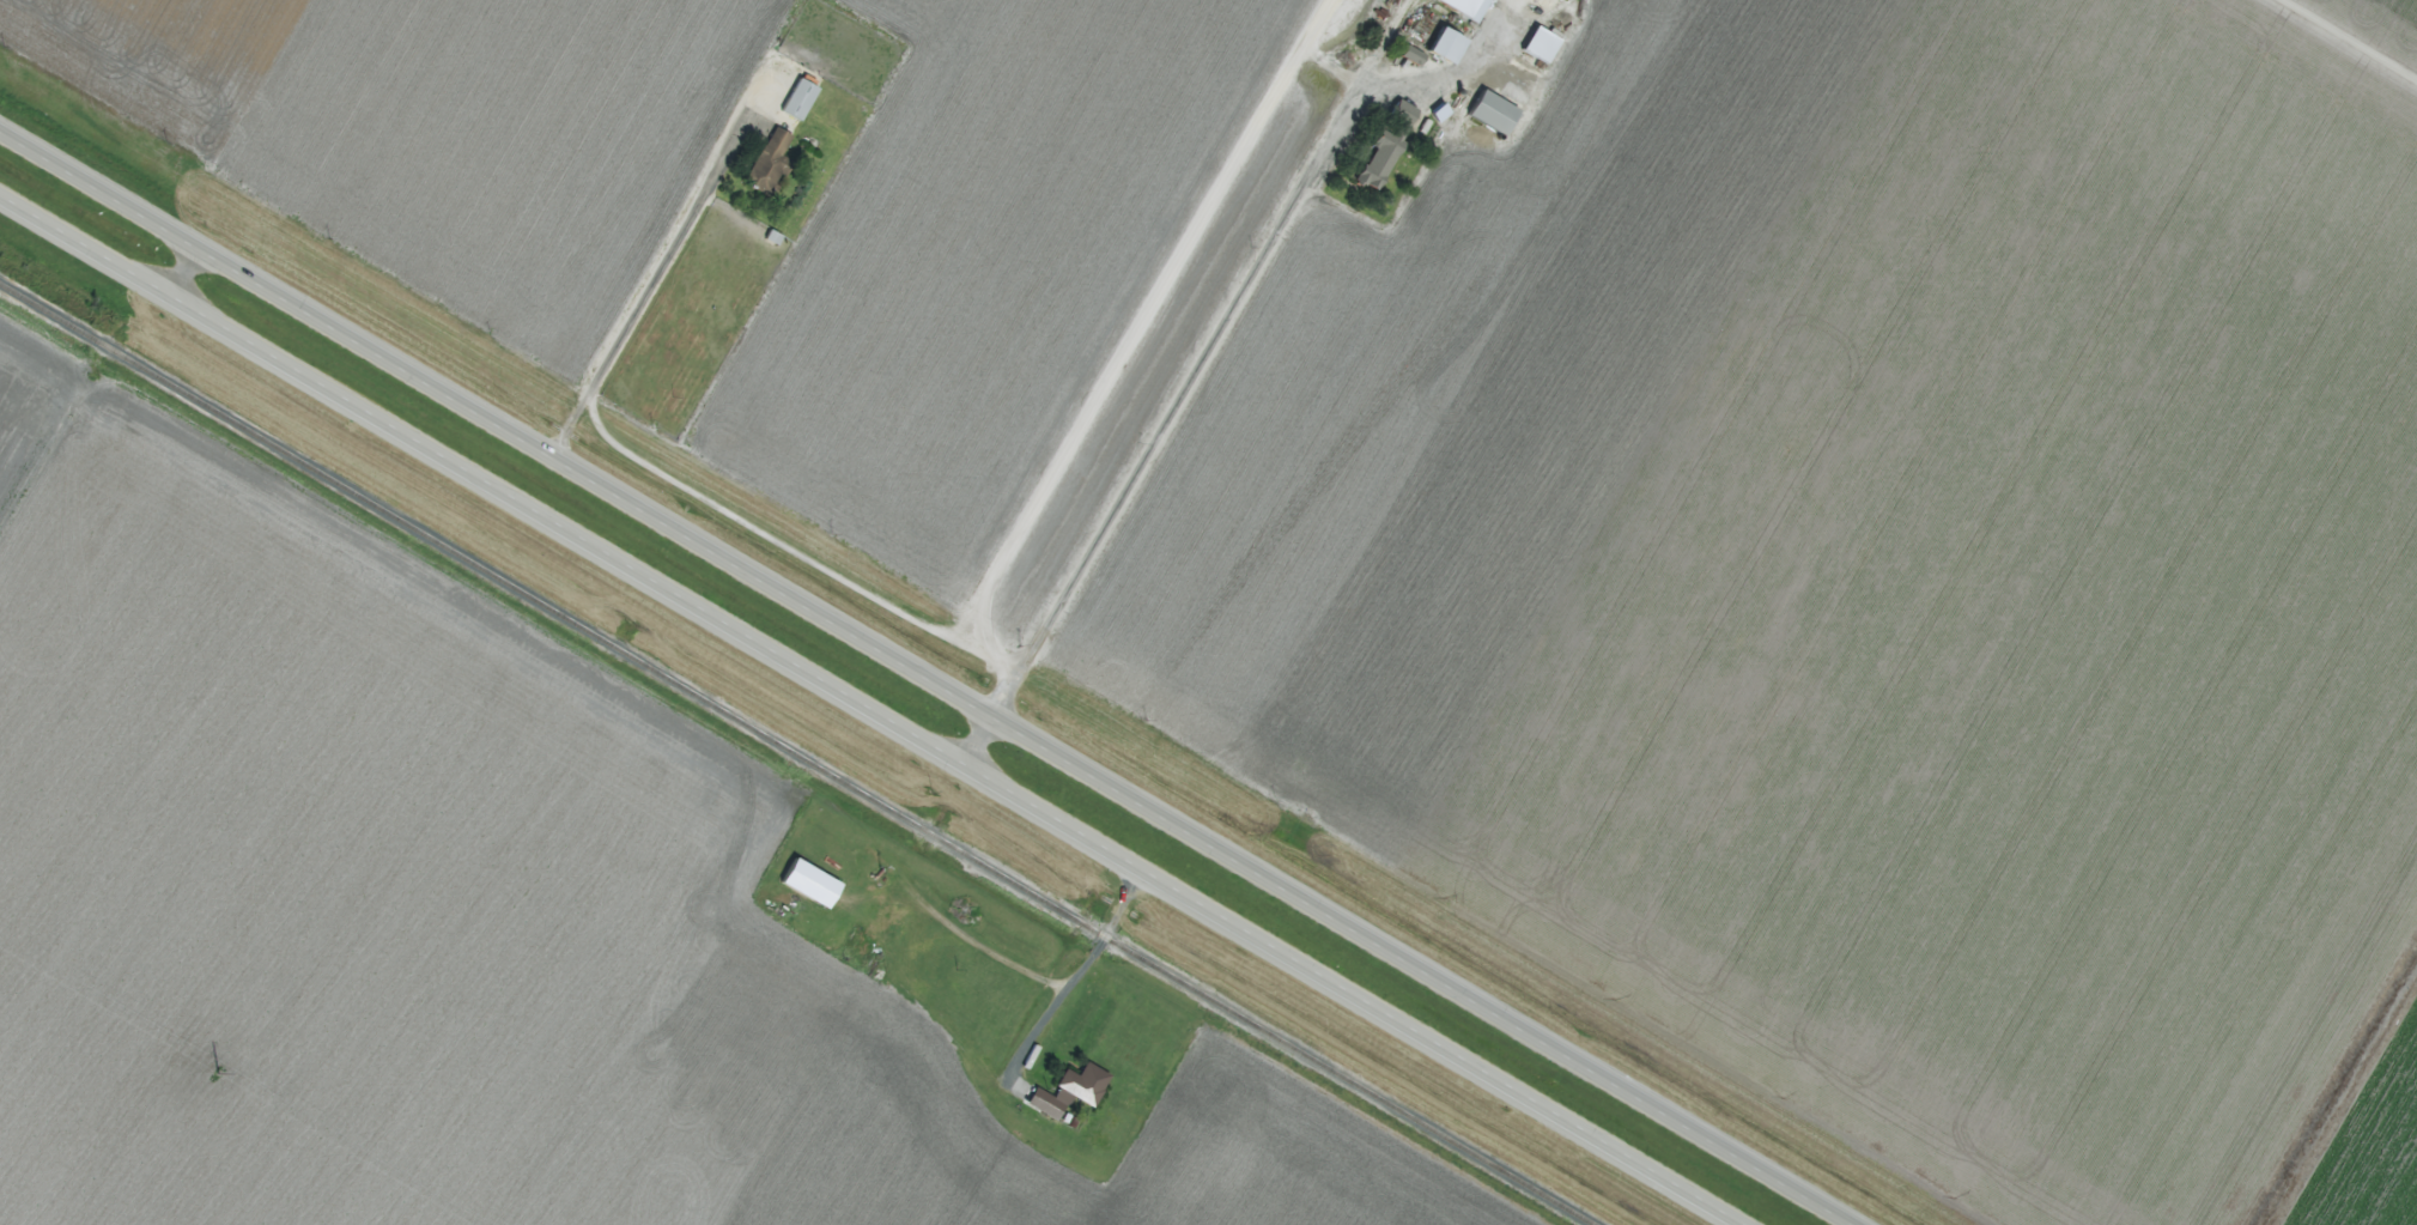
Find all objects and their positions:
building: (1535, 44)
building: (1440, 46)
building: (1408, 55)
building: (794, 99)
building: (1487, 113)
building: (1381, 145)
building: (765, 164)
road: (1118, 357)
road: (922, 681)
road: (864, 716)
road: (971, 745)
railway: (796, 753)
building: (803, 883)
power tower: (217, 1075)
building: (1065, 1090)

